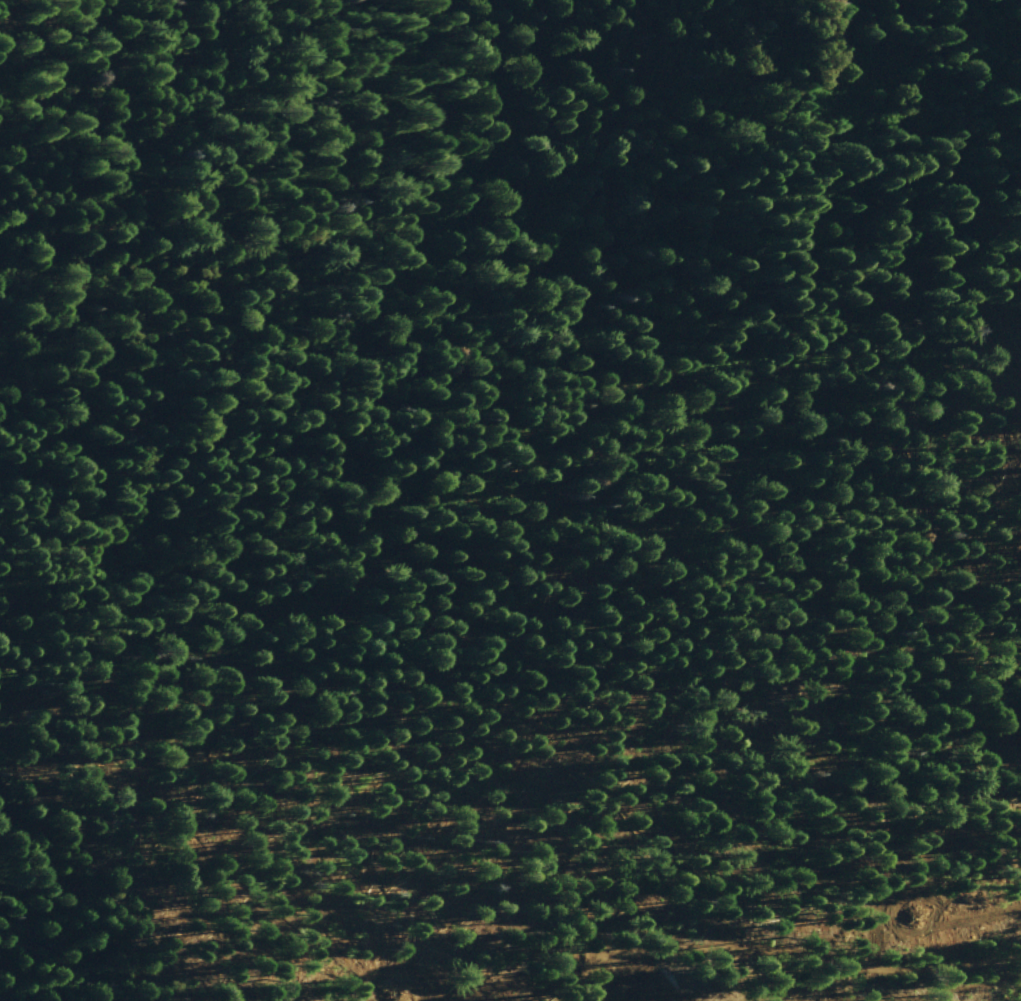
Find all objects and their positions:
road: (523, 329)
road: (925, 961)

